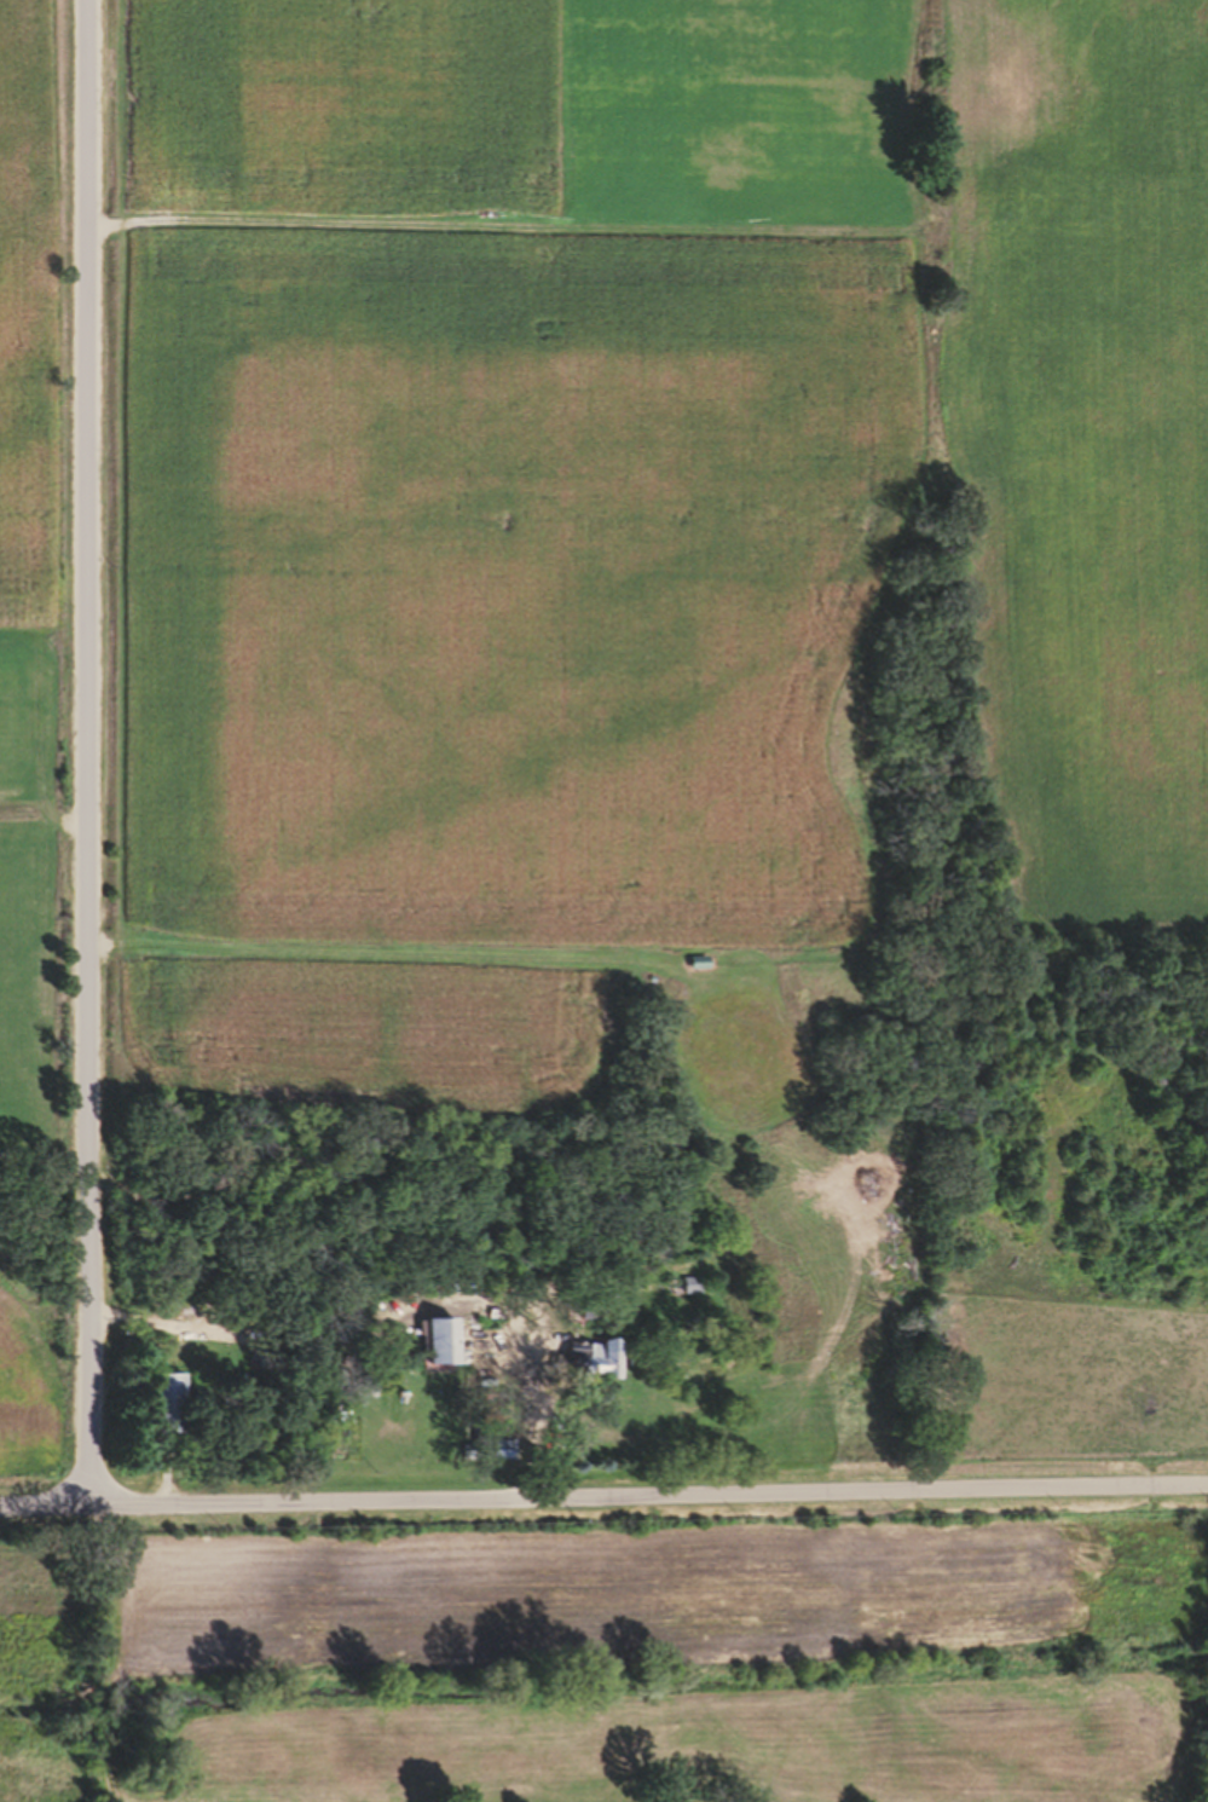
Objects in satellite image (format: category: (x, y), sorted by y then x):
road: (91, 755)
building: (440, 1350)
building: (588, 1368)
building: (606, 1369)
building: (166, 1411)
road: (603, 1502)
crop: (623, 1667)

